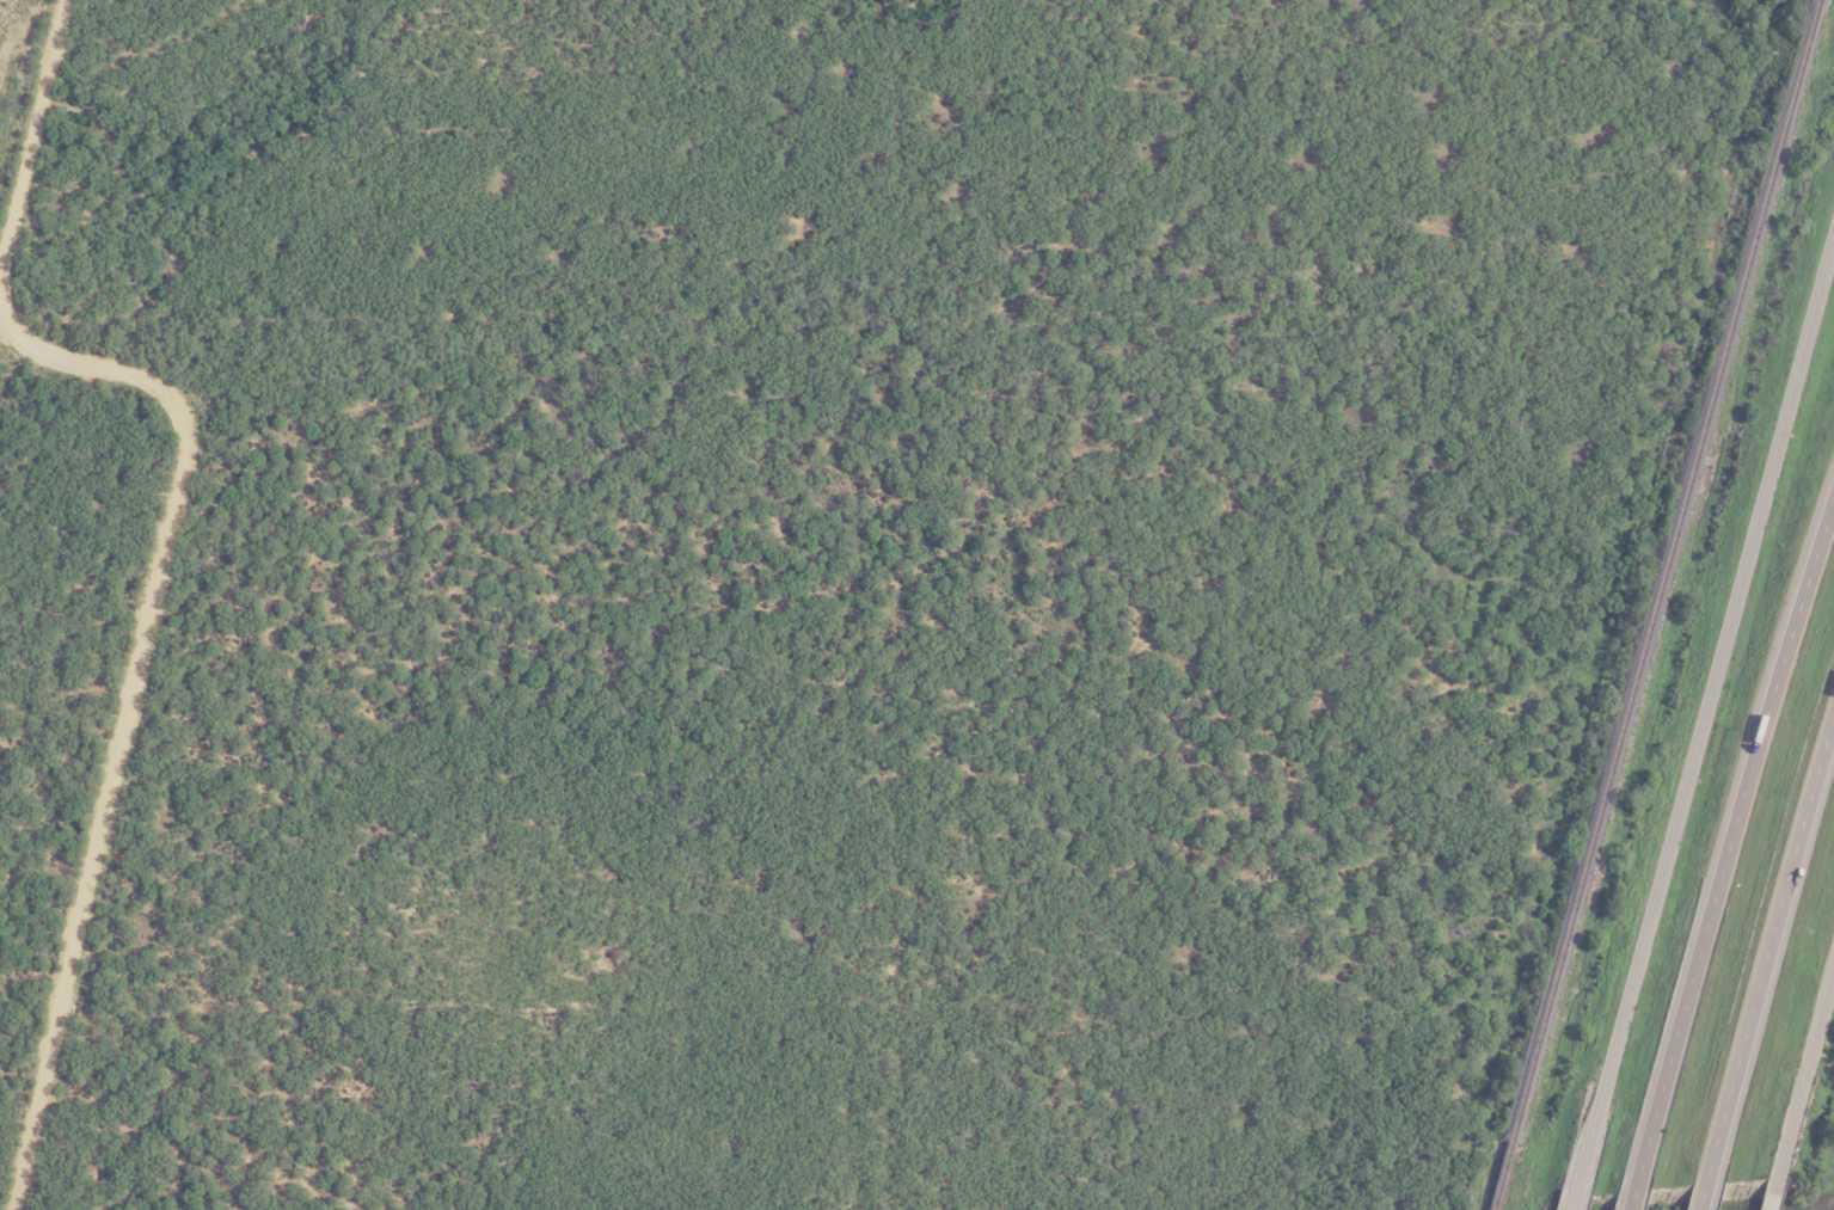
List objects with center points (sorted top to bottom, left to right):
road: (167, 554)
railway: (1661, 569)
road: (1705, 712)
road: (1726, 852)
road: (1768, 946)
road: (1805, 1071)
railway: (1496, 1174)
road: (1772, 1193)
road: (1701, 1196)
road: (1574, 1200)

